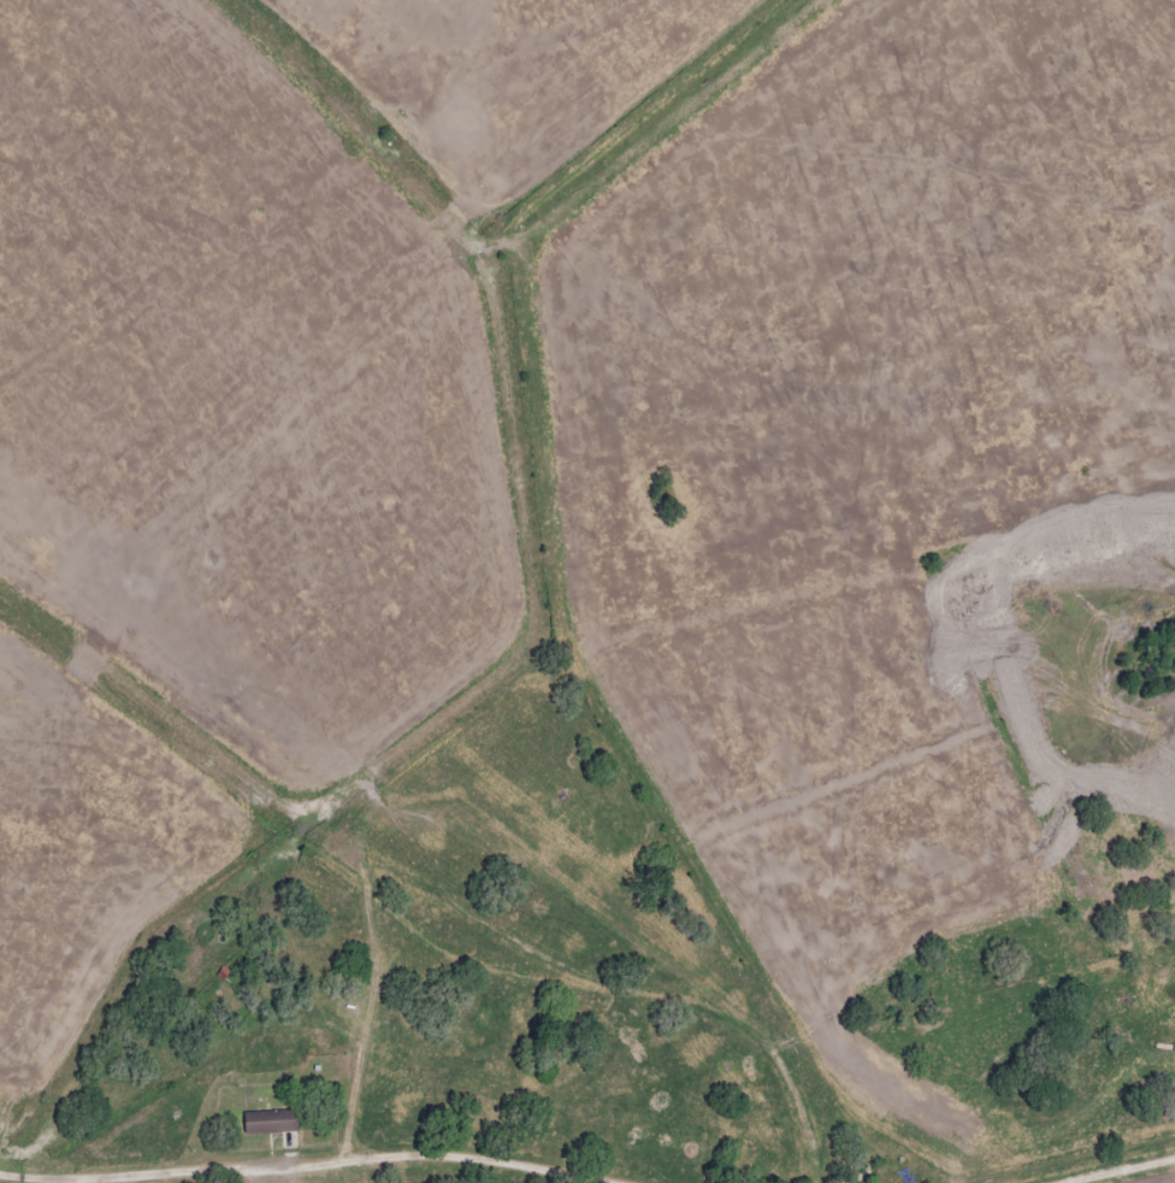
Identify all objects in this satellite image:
building: (267, 1120)
road: (307, 1164)
road: (1116, 1170)

